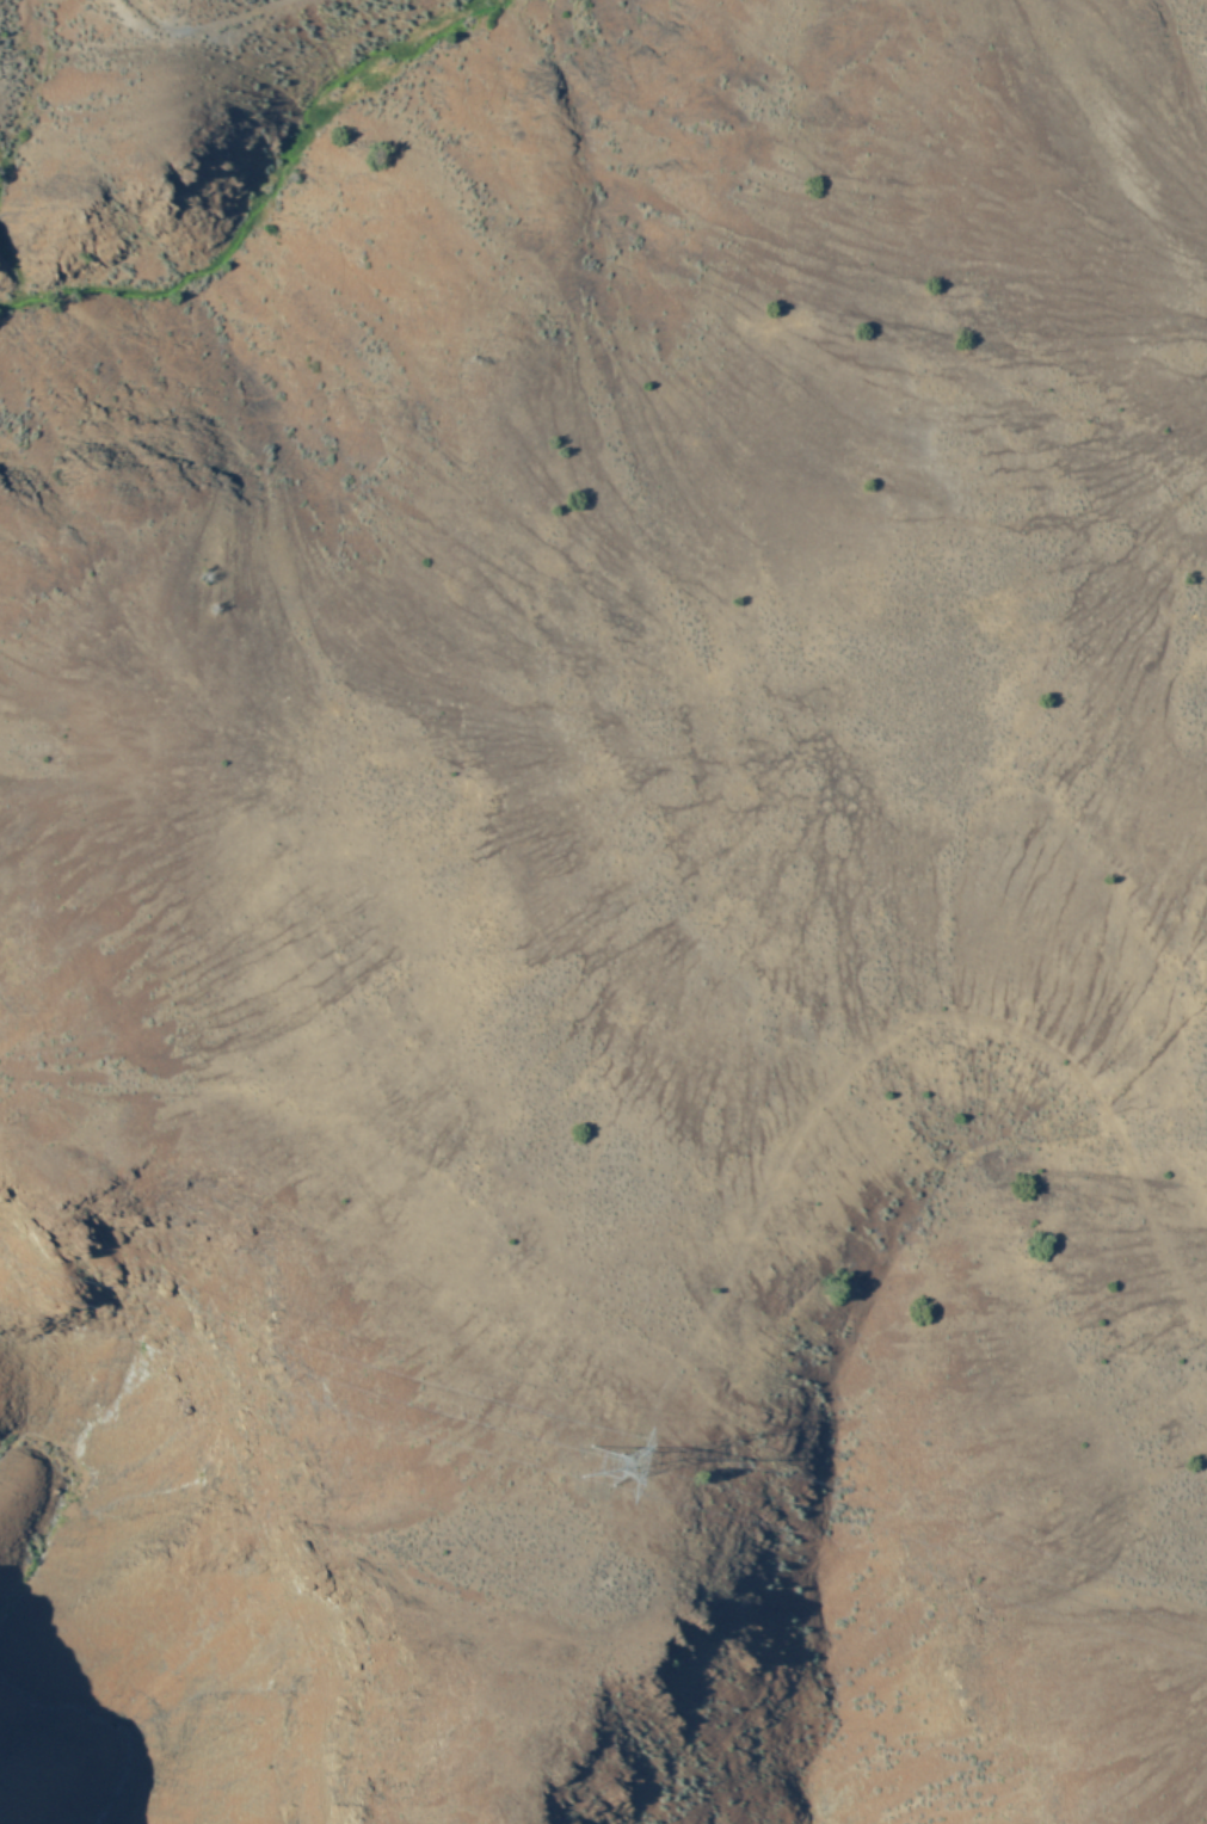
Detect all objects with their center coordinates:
power tower: (626, 1508)

